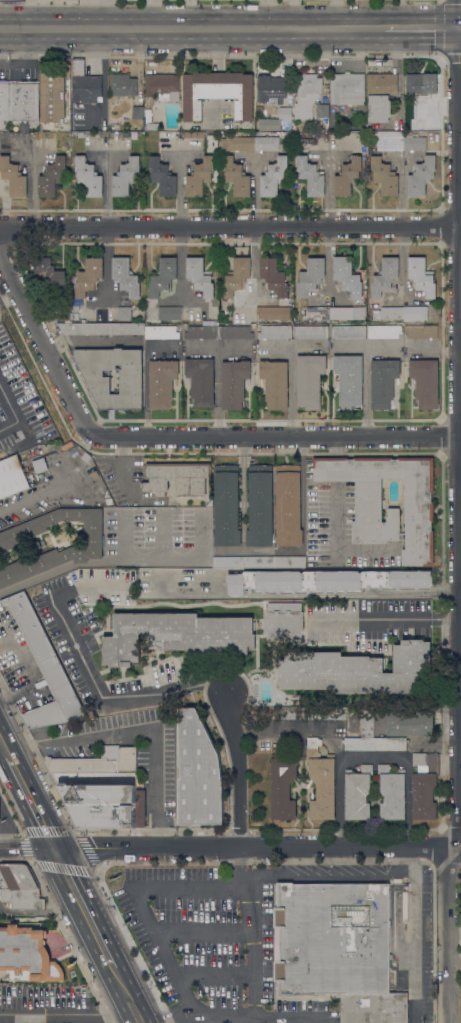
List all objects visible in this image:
road: (106, 13)
road: (153, 13)
road: (188, 13)
road: (263, 13)
road: (419, 26)
traffic signals: (455, 26)
road: (458, 26)
road: (192, 27)
building: (421, 83)
building: (85, 84)
building: (123, 85)
building: (163, 85)
building: (271, 88)
building: (347, 88)
building: (307, 92)
building: (218, 93)
building: (52, 95)
building: (380, 95)
building: (23, 101)
building: (4, 104)
building: (423, 105)
building: (259, 109)
building: (323, 110)
building: (138, 112)
building: (276, 119)
building: (153, 126)
building: (295, 133)
building: (80, 134)
building: (194, 134)
building: (302, 134)
building: (388, 140)
building: (413, 142)
building: (238, 143)
building: (267, 143)
building: (52, 176)
building: (126, 176)
building: (200, 176)
building: (237, 176)
building: (273, 176)
building: (311, 176)
building: (384, 176)
building: (421, 176)
building: (13, 177)
building: (89, 177)
building: (163, 177)
building: (347, 177)
road: (180, 186)
road: (107, 189)
road: (254, 193)
road: (228, 228)
road: (254, 264)
building: (47, 275)
building: (89, 276)
building: (126, 276)
building: (163, 276)
building: (200, 276)
building: (237, 276)
building: (274, 276)
building: (310, 276)
building: (385, 276)
building: (422, 276)
building: (348, 277)
building: (63, 309)
building: (75, 311)
building: (273, 312)
building: (348, 312)
building: (388, 312)
building: (124, 313)
building: (170, 313)
building: (317, 313)
building: (415, 313)
building: (101, 328)
building: (202, 330)
building: (348, 331)
building: (383, 331)
building: (421, 331)
building: (161, 332)
building: (235, 332)
building: (274, 332)
building: (311, 332)
road: (44, 333)
road: (460, 333)
road: (380, 344)
road: (292, 346)
road: (366, 375)
building: (349, 378)
building: (201, 380)
building: (309, 381)
building: (162, 382)
building: (234, 382)
building: (383, 382)
building: (425, 382)
building: (275, 383)
building: (131, 385)
road: (290, 390)
road: (12, 410)
road: (277, 434)
road: (339, 446)
road: (338, 469)
building: (94, 474)
building: (12, 476)
building: (177, 478)
road: (243, 492)
road: (37, 494)
building: (226, 505)
building: (260, 505)
building: (288, 505)
building: (419, 512)
road: (460, 512)
road: (164, 535)
road: (122, 536)
road: (339, 538)
building: (82, 550)
road: (121, 562)
building: (228, 562)
building: (259, 562)
building: (290, 562)
building: (325, 581)
road: (386, 618)
building: (283, 621)
building: (176, 635)
building: (45, 668)
building: (357, 670)
road: (29, 673)
road: (90, 675)
building: (287, 713)
building: (323, 713)
building: (368, 723)
building: (409, 723)
road: (138, 731)
road: (332, 739)
building: (293, 742)
building: (358, 743)
building: (390, 743)
road: (3, 745)
road: (372, 756)
building: (127, 758)
road: (232, 769)
building: (198, 772)
building: (321, 781)
building: (425, 785)
building: (283, 786)
building: (97, 792)
building: (357, 793)
building: (392, 793)
road: (31, 800)
road: (407, 803)
road: (230, 848)
road: (237, 866)
road: (325, 874)
building: (20, 887)
road: (142, 903)
building: (390, 906)
road: (86, 909)
road: (415, 935)
building: (337, 948)
building: (26, 955)
road: (252, 988)
road: (130, 996)
road: (68, 1013)
road: (210, 1015)
road: (208, 1019)

